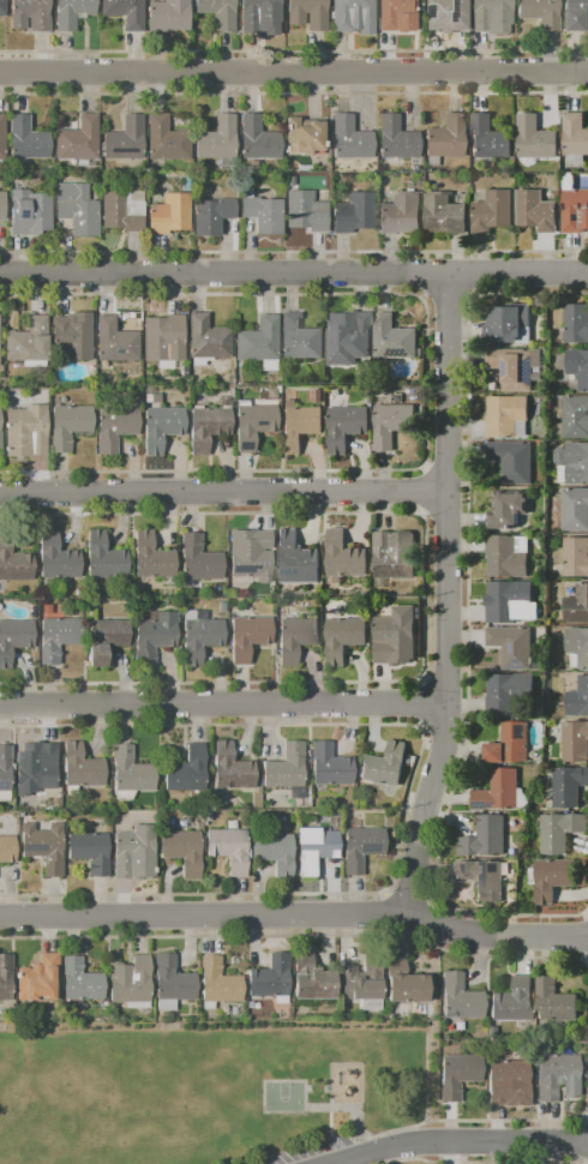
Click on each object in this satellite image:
building: (4, 8)
building: (490, 12)
building: (74, 13)
building: (128, 13)
building: (221, 13)
building: (259, 13)
building: (397, 13)
building: (542, 13)
building: (32, 16)
building: (170, 16)
building: (449, 16)
building: (576, 16)
building: (355, 17)
building: (319, 20)
road: (294, 76)
building: (576, 136)
building: (311, 137)
building: (4, 139)
building: (449, 139)
building: (77, 140)
building: (169, 140)
building: (220, 140)
building: (260, 140)
building: (398, 140)
building: (491, 140)
building: (538, 140)
building: (30, 142)
building: (127, 142)
building: (353, 142)
building: (4, 208)
building: (79, 211)
building: (125, 212)
building: (539, 212)
building: (576, 212)
building: (32, 214)
building: (308, 214)
building: (496, 214)
building: (356, 215)
building: (172, 216)
building: (266, 216)
building: (404, 216)
building: (446, 216)
building: (215, 217)
road: (294, 276)
building: (511, 325)
building: (577, 325)
building: (76, 337)
building: (167, 340)
building: (350, 340)
building: (395, 340)
building: (210, 341)
building: (302, 341)
building: (0, 342)
building: (30, 343)
building: (118, 343)
building: (260, 343)
building: (517, 368)
building: (580, 368)
building: (320, 397)
building: (510, 418)
building: (575, 418)
building: (395, 425)
building: (347, 426)
building: (71, 427)
building: (118, 427)
building: (257, 427)
building: (301, 427)
building: (163, 430)
building: (210, 430)
building: (1, 431)
building: (29, 433)
building: (515, 462)
building: (574, 464)
road: (222, 491)
building: (511, 510)
building: (576, 511)
building: (396, 556)
building: (346, 557)
building: (510, 557)
building: (251, 558)
building: (60, 559)
building: (108, 559)
building: (155, 559)
building: (577, 559)
building: (203, 562)
building: (299, 562)
building: (14, 563)
road: (444, 598)
building: (508, 602)
building: (577, 608)
building: (394, 637)
building: (157, 638)
building: (251, 638)
building: (298, 640)
building: (347, 640)
building: (60, 641)
building: (14, 642)
building: (108, 642)
building: (203, 642)
building: (580, 647)
building: (515, 648)
building: (510, 694)
building: (580, 701)
road: (222, 703)
building: (576, 743)
building: (512, 745)
building: (332, 767)
building: (388, 767)
building: (6, 769)
building: (84, 769)
building: (234, 769)
building: (289, 769)
building: (42, 772)
building: (133, 773)
building: (190, 773)
building: (570, 788)
building: (500, 792)
building: (562, 833)
building: (487, 839)
building: (47, 848)
building: (364, 850)
building: (8, 851)
building: (232, 851)
building: (318, 851)
building: (92, 853)
building: (185, 853)
building: (277, 854)
building: (137, 856)
building: (554, 878)
building: (485, 880)
road: (294, 916)
building: (6, 979)
building: (275, 980)
building: (314, 980)
building: (42, 982)
building: (84, 983)
building: (133, 983)
building: (175, 983)
building: (222, 984)
building: (408, 984)
building: (366, 985)
building: (463, 1000)
building: (516, 1003)
building: (557, 1003)
building: (558, 1075)
building: (460, 1076)
building: (511, 1085)
park: (206, 1088)
park: (282, 1098)
road: (338, 1109)
road: (462, 1145)
parking lot: (304, 1151)

